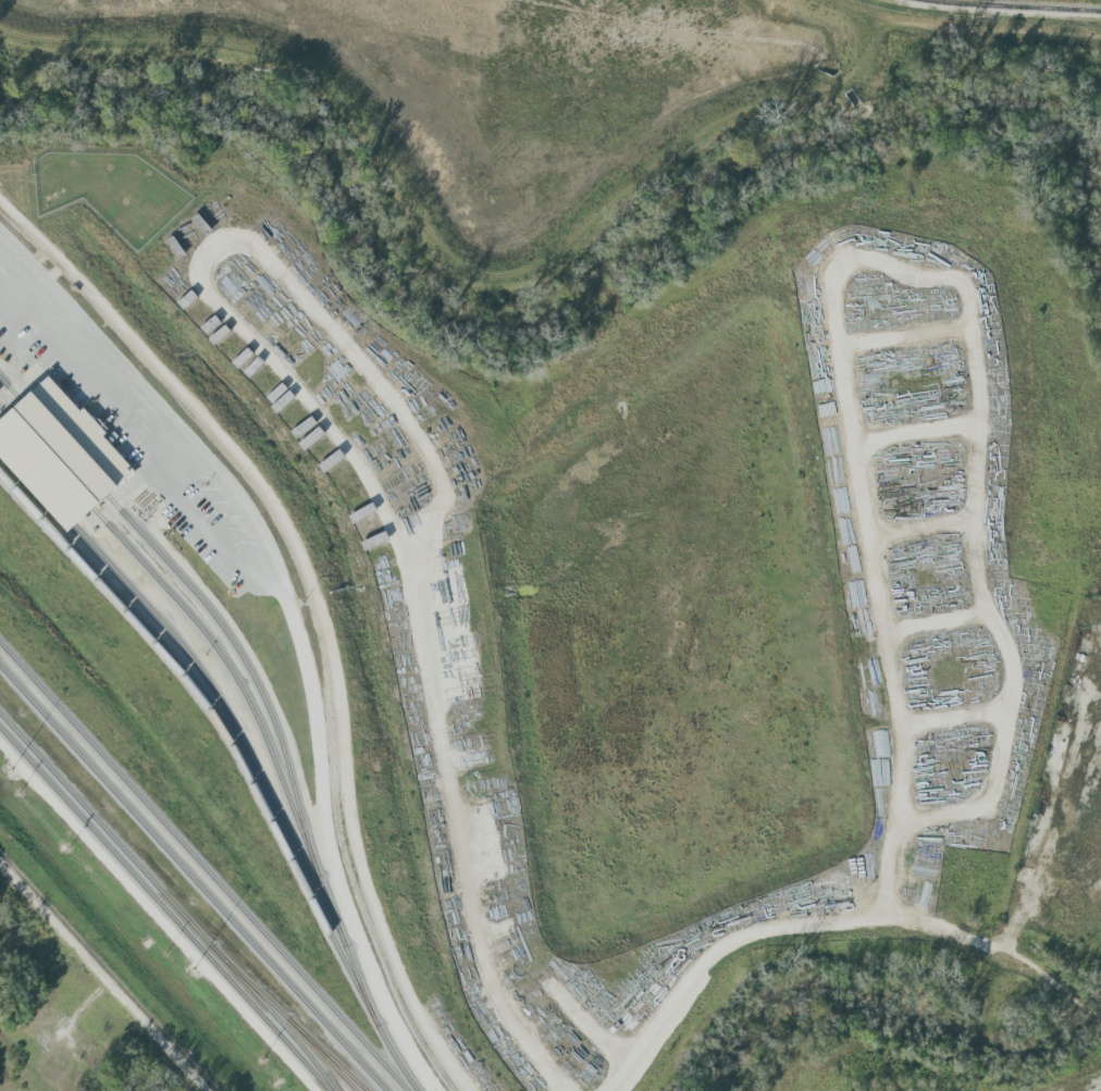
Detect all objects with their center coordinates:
railway: (1014, 7)
building: (54, 452)
road: (314, 605)
road: (301, 647)
railway: (175, 909)
railway: (161, 910)
road: (830, 923)
road: (103, 975)

